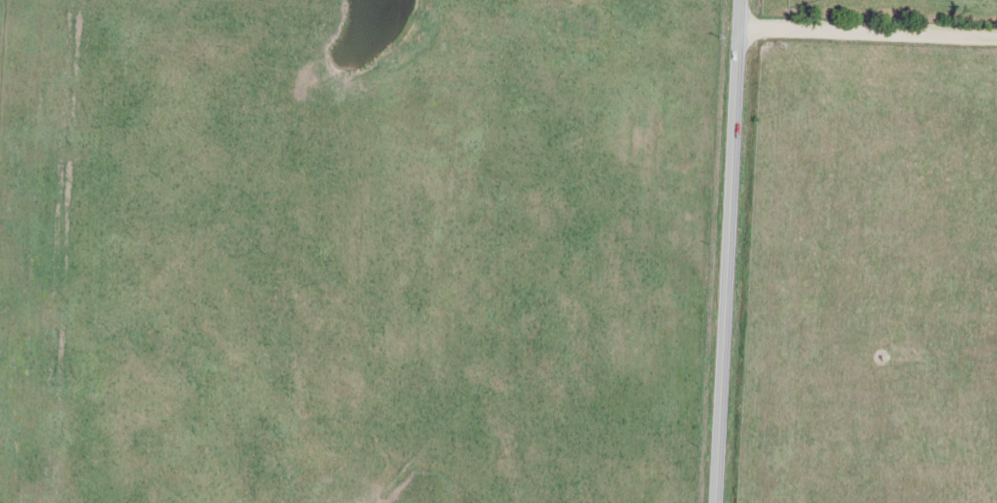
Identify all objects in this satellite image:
road: (873, 46)
road: (739, 251)

